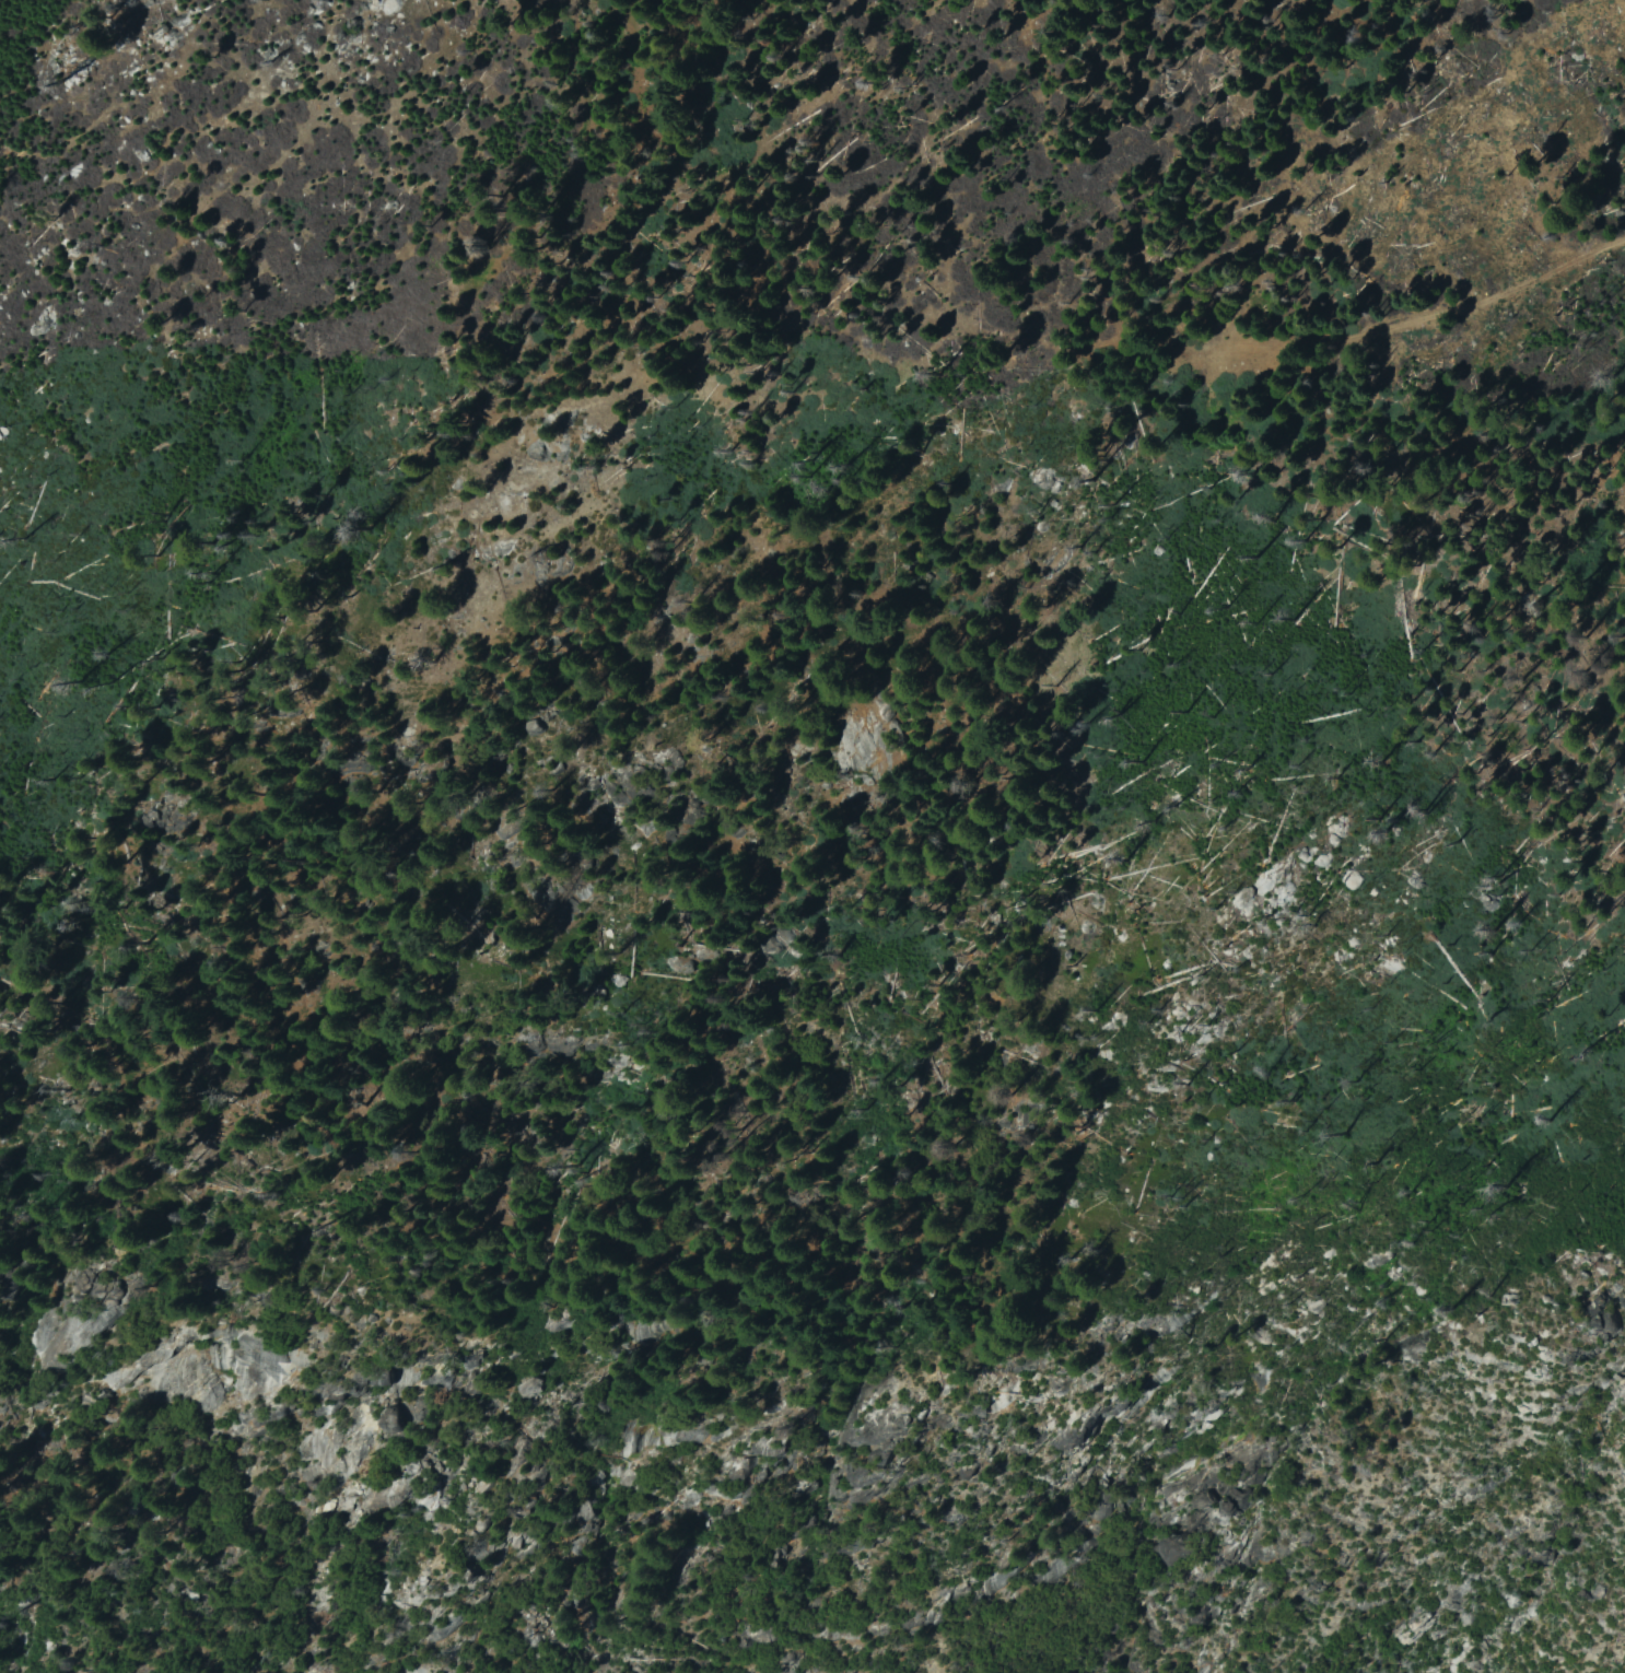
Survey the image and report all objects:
road: (1158, 383)

